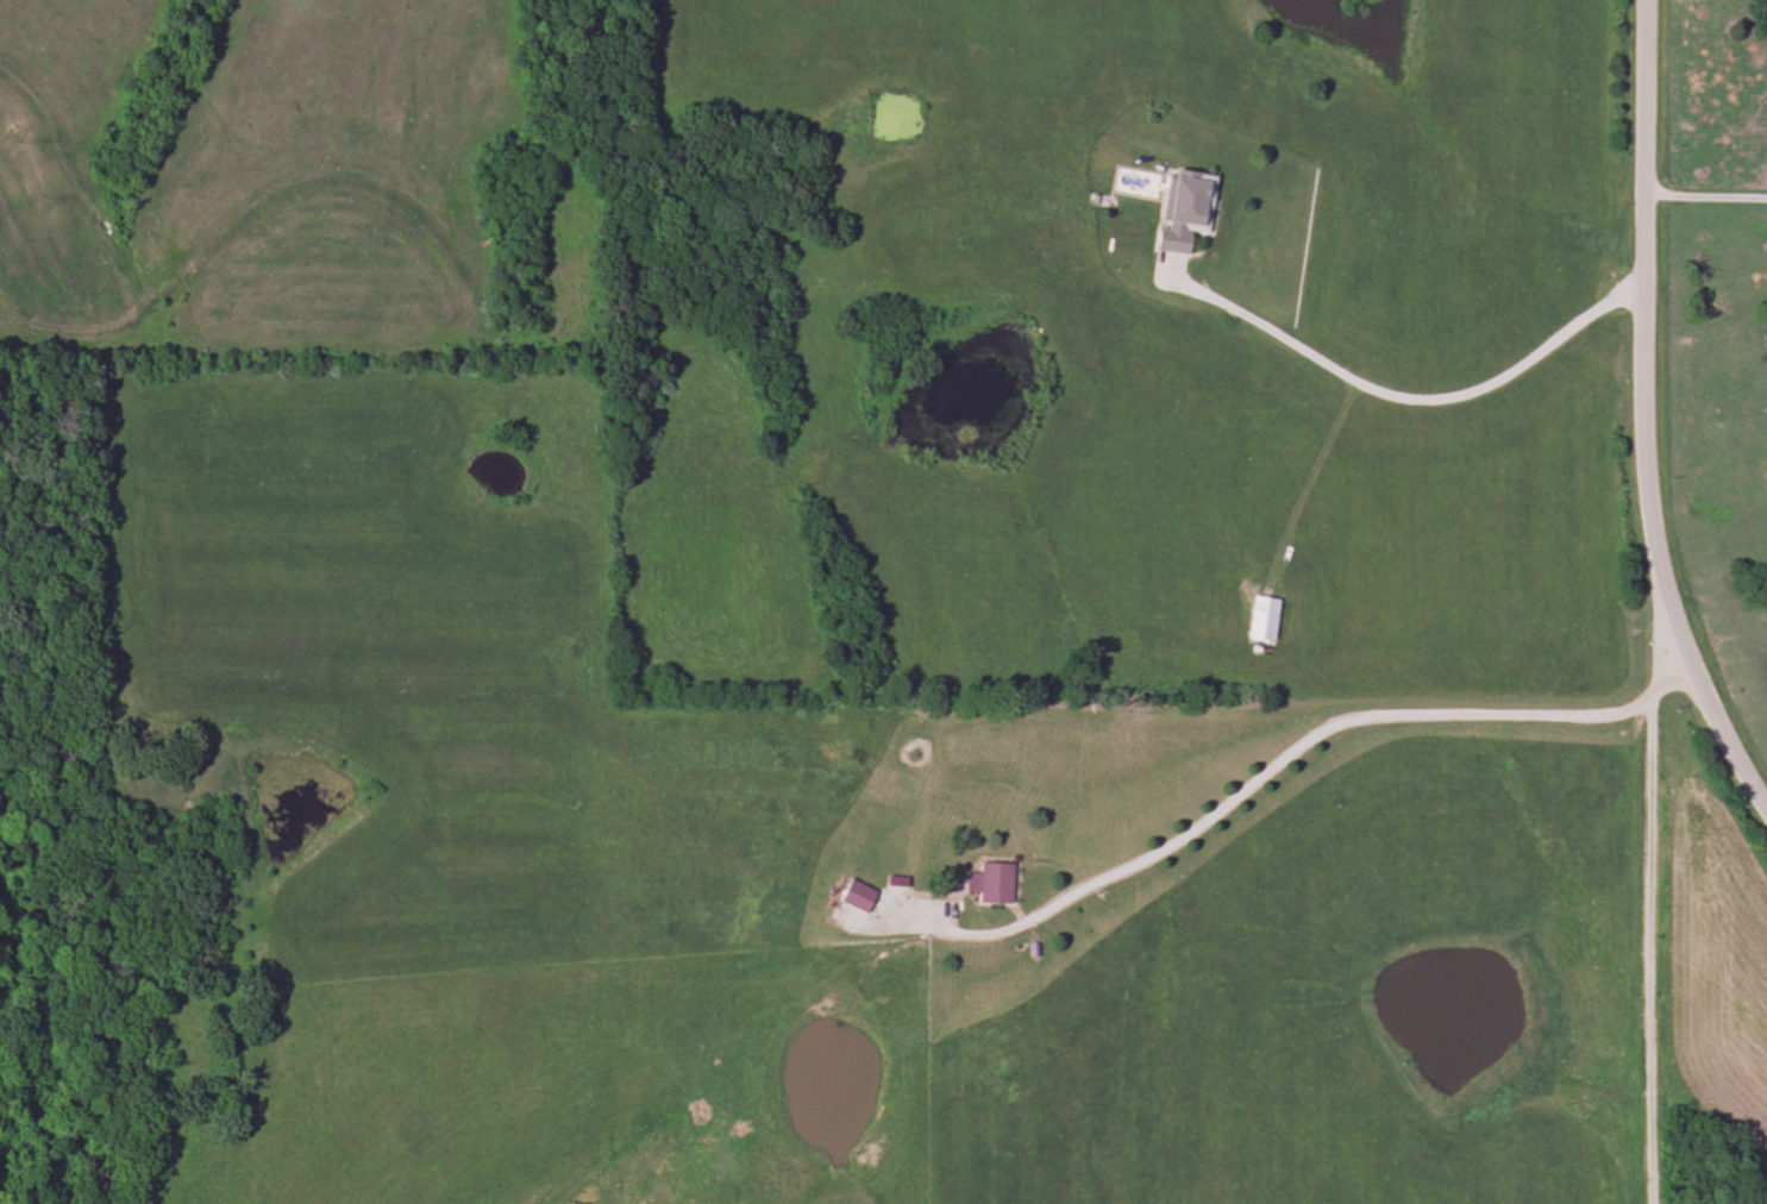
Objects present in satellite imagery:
building: (1185, 206)
road: (1644, 325)
road: (1403, 400)
building: (1262, 619)
road: (1335, 726)
road: (1717, 733)
building: (991, 884)
building: (858, 896)
road: (1647, 924)

